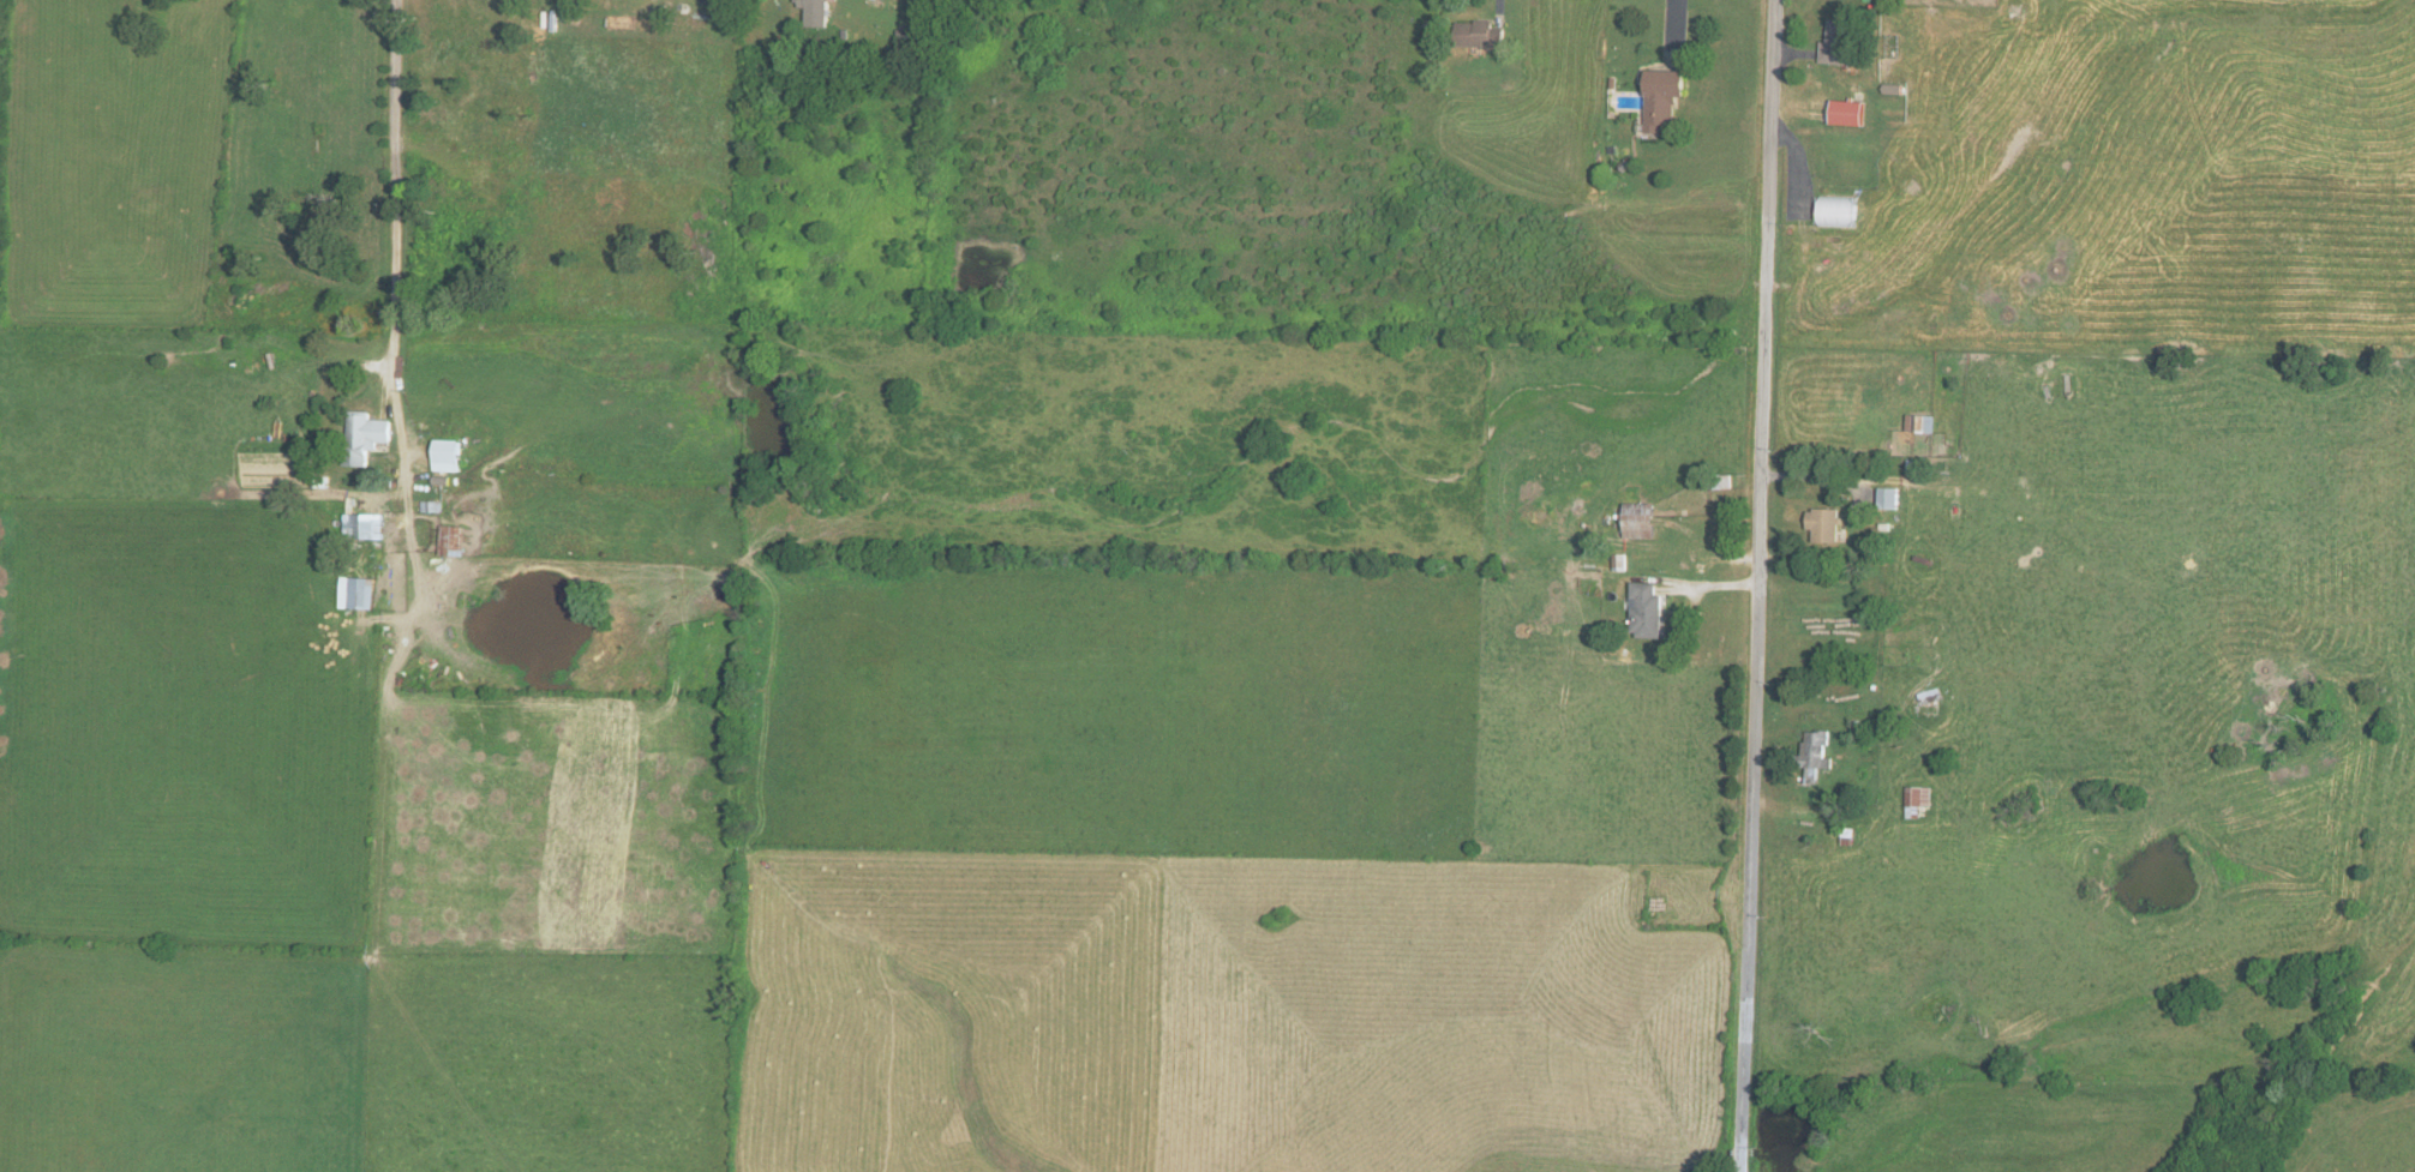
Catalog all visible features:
building: (991, 0)
building: (816, 12)
building: (1478, 34)
building: (1839, 42)
building: (1848, 113)
building: (1838, 211)
road: (391, 238)
building: (1920, 423)
building: (364, 437)
building: (447, 456)
building: (1720, 482)
building: (1888, 499)
building: (1640, 521)
building: (1824, 525)
building: (451, 541)
road: (1760, 585)
building: (356, 594)
building: (1646, 611)
building: (1814, 755)
building: (1917, 801)

